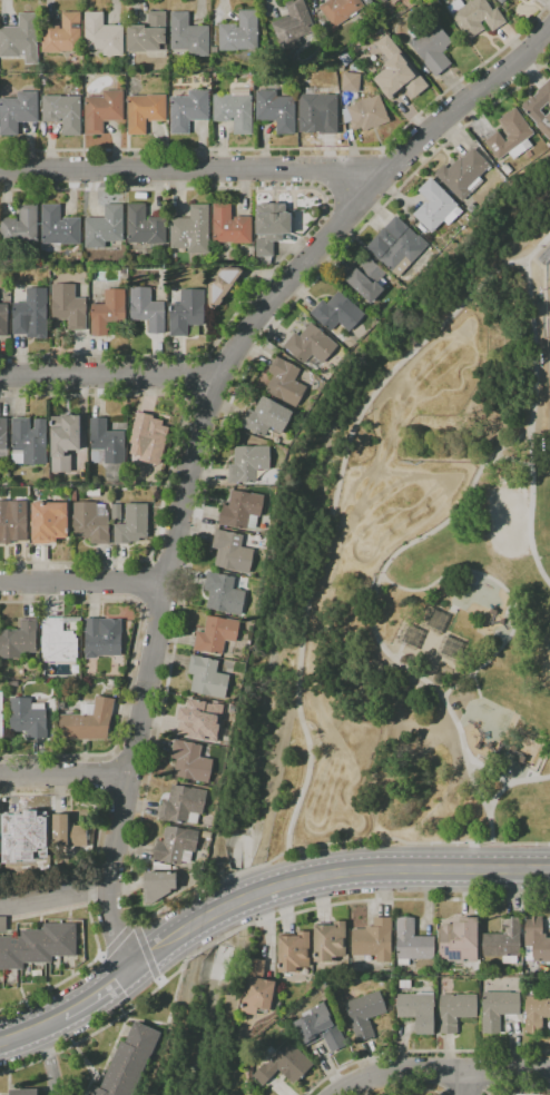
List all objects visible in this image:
building: (373, 1)
building: (384, 1)
building: (501, 1)
building: (340, 10)
building: (395, 12)
building: (474, 16)
building: (293, 24)
building: (239, 32)
building: (381, 32)
building: (148, 33)
building: (62, 34)
building: (102, 34)
building: (188, 36)
building: (21, 39)
building: (432, 48)
building: (214, 49)
building: (397, 71)
building: (351, 82)
building: (234, 108)
building: (540, 108)
building: (320, 109)
building: (102, 110)
building: (188, 110)
building: (276, 110)
building: (17, 112)
building: (63, 112)
building: (145, 112)
building: (366, 114)
building: (511, 137)
road: (303, 150)
building: (507, 169)
road: (191, 170)
building: (463, 174)
building: (436, 206)
building: (471, 208)
building: (145, 226)
building: (230, 226)
building: (59, 227)
building: (105, 227)
building: (273, 228)
building: (422, 229)
building: (21, 230)
building: (191, 230)
road: (307, 230)
building: (396, 246)
building: (544, 256)
building: (47, 274)
building: (365, 278)
building: (223, 285)
building: (69, 307)
building: (29, 309)
building: (147, 309)
building: (109, 312)
building: (187, 312)
building: (337, 313)
building: (3, 319)
building: (311, 345)
road: (425, 362)
road: (435, 371)
road: (107, 376)
building: (285, 383)
building: (266, 417)
road: (196, 436)
building: (3, 440)
building: (147, 440)
building: (65, 441)
building: (29, 442)
building: (106, 443)
road: (380, 460)
road: (171, 463)
road: (508, 463)
building: (251, 464)
building: (92, 492)
building: (242, 510)
road: (530, 510)
park: (508, 517)
building: (13, 521)
building: (49, 522)
building: (90, 523)
building: (130, 523)
road: (321, 533)
road: (410, 546)
building: (232, 552)
road: (356, 553)
road: (338, 572)
road: (464, 574)
road: (143, 583)
road: (81, 586)
building: (224, 594)
park: (430, 594)
building: (431, 619)
building: (216, 634)
road: (175, 639)
building: (19, 640)
building: (57, 642)
building: (99, 642)
road: (487, 658)
park: (542, 661)
road: (129, 667)
building: (111, 673)
building: (207, 678)
building: (111, 683)
road: (475, 687)
building: (1, 717)
building: (28, 718)
building: (88, 721)
building: (202, 722)
building: (190, 761)
road: (487, 769)
road: (63, 776)
road: (104, 777)
road: (513, 782)
building: (183, 805)
road: (333, 823)
building: (68, 835)
building: (23, 839)
building: (176, 846)
building: (159, 867)
road: (327, 876)
road: (89, 885)
building: (158, 886)
building: (28, 890)
road: (57, 899)
building: (3, 924)
road: (254, 924)
road: (116, 937)
building: (374, 940)
building: (459, 940)
building: (536, 940)
building: (327, 941)
building: (504, 941)
building: (412, 943)
building: (38, 946)
building: (294, 951)
road: (146, 953)
building: (318, 978)
building: (404, 984)
building: (257, 989)
road: (98, 994)
building: (498, 1009)
building: (418, 1010)
building: (455, 1010)
building: (536, 1013)
building: (365, 1014)
road: (35, 1028)
building: (320, 1028)
road: (2, 1040)
road: (422, 1052)
road: (48, 1061)
building: (129, 1062)
building: (285, 1065)
road: (441, 1072)
road: (468, 1083)
road: (411, 1089)
road: (518, 1091)
building: (24, 1092)
road: (463, 1094)

